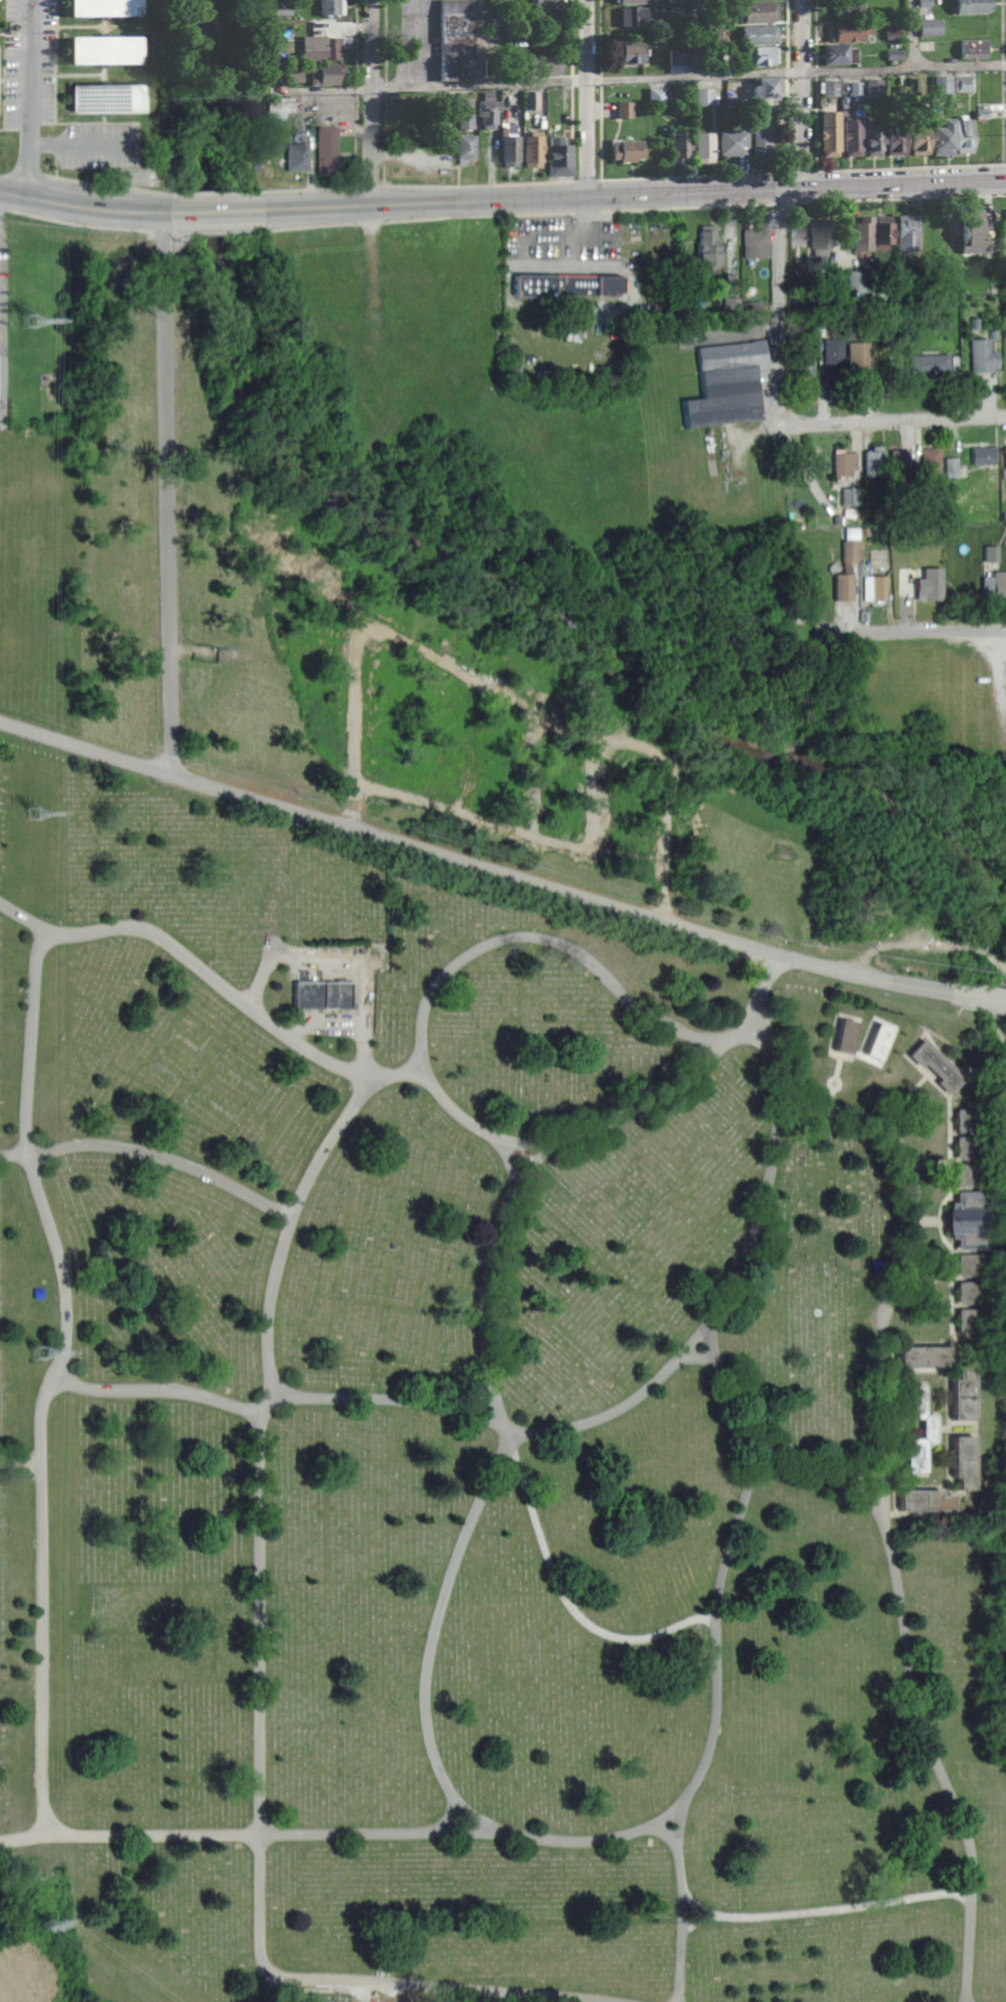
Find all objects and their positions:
building: (631, 1)
building: (923, 2)
building: (544, 3)
building: (973, 5)
building: (103, 7)
building: (330, 7)
building: (846, 7)
building: (757, 12)
building: (634, 17)
building: (550, 18)
building: (930, 26)
road: (1001, 28)
building: (893, 29)
building: (849, 30)
road: (814, 32)
road: (785, 33)
building: (757, 34)
road: (913, 34)
road: (570, 36)
road: (599, 36)
road: (696, 38)
parking lot: (418, 39)
road: (383, 40)
building: (455, 40)
road: (353, 41)
road: (480, 42)
building: (321, 47)
building: (973, 47)
building: (103, 50)
building: (628, 52)
building: (837, 53)
building: (760, 55)
building: (677, 56)
road: (1001, 64)
building: (542, 66)
road: (814, 71)
road: (785, 72)
building: (325, 74)
road: (599, 78)
road: (570, 79)
road: (595, 80)
building: (943, 82)
building: (964, 83)
road: (384, 87)
building: (830, 87)
building: (851, 87)
building: (765, 88)
road: (354, 89)
building: (656, 95)
building: (705, 95)
road: (587, 97)
building: (103, 98)
road: (32, 99)
building: (531, 99)
road: (369, 101)
building: (283, 107)
building: (625, 108)
building: (487, 111)
building: (828, 133)
building: (851, 137)
building: (941, 137)
building: (963, 137)
building: (762, 140)
building: (872, 140)
building: (894, 140)
building: (918, 140)
building: (732, 143)
building: (679, 147)
building: (703, 147)
building: (464, 148)
building: (532, 149)
building: (326, 150)
building: (509, 150)
building: (625, 151)
building: (296, 156)
building: (557, 157)
road: (1004, 163)
road: (906, 167)
road: (692, 175)
road: (585, 180)
road: (479, 181)
road: (100, 182)
road: (353, 185)
road: (214, 191)
road: (634, 193)
road: (898, 197)
road: (779, 205)
road: (83, 206)
road: (216, 210)
building: (970, 231)
building: (881, 232)
building: (862, 234)
building: (906, 234)
building: (818, 238)
building: (755, 243)
road: (569, 247)
building: (707, 247)
parking lot: (572, 259)
road: (589, 268)
building: (859, 279)
building: (564, 284)
building: (733, 304)
building: (833, 356)
building: (860, 356)
building: (982, 356)
road: (165, 359)
building: (804, 359)
building: (929, 364)
road: (1, 375)
building: (726, 383)
road: (892, 414)
building: (983, 454)
building: (1005, 456)
building: (930, 458)
building: (874, 461)
building: (900, 461)
building: (844, 462)
building: (952, 466)
building: (851, 494)
building: (990, 552)
building: (847, 568)
building: (930, 583)
building: (994, 585)
building: (874, 587)
road: (928, 628)
road: (172, 641)
road: (1000, 665)
parking lot: (993, 682)
road: (474, 863)
road: (24, 915)
road: (157, 932)
road: (563, 945)
road: (347, 964)
road: (761, 988)
building: (323, 993)
road: (979, 996)
building: (846, 1035)
building: (877, 1040)
road: (32, 1042)
road: (306, 1045)
building: (936, 1065)
road: (772, 1072)
road: (396, 1074)
road: (616, 1114)
building: (969, 1118)
road: (327, 1142)
building: (968, 1146)
road: (13, 1153)
road: (164, 1156)
road: (532, 1160)
building: (969, 1174)
building: (968, 1219)
road: (756, 1224)
road: (500, 1233)
road: (907, 1263)
building: (969, 1264)
road: (62, 1266)
building: (970, 1292)
road: (271, 1301)
park: (469, 1306)
building: (970, 1318)
building: (923, 1354)
road: (698, 1356)
road: (158, 1389)
road: (734, 1391)
building: (962, 1393)
road: (395, 1398)
road: (268, 1404)
road: (624, 1404)
road: (41, 1418)
building: (932, 1428)
road: (19, 1458)
building: (962, 1460)
road: (824, 1469)
building: (924, 1499)
road: (731, 1538)
road: (564, 1594)
road: (261, 1625)
flagpole: (703, 1637)
road: (433, 1640)
road: (43, 1645)
road: (916, 1706)
road: (712, 1731)
road: (449, 1814)
road: (382, 1830)
road: (665, 1830)
road: (154, 1833)
road: (23, 1834)
road: (577, 1839)
road: (683, 1899)
road: (826, 1908)
road: (697, 1920)
road: (969, 1945)
road: (375, 1978)

